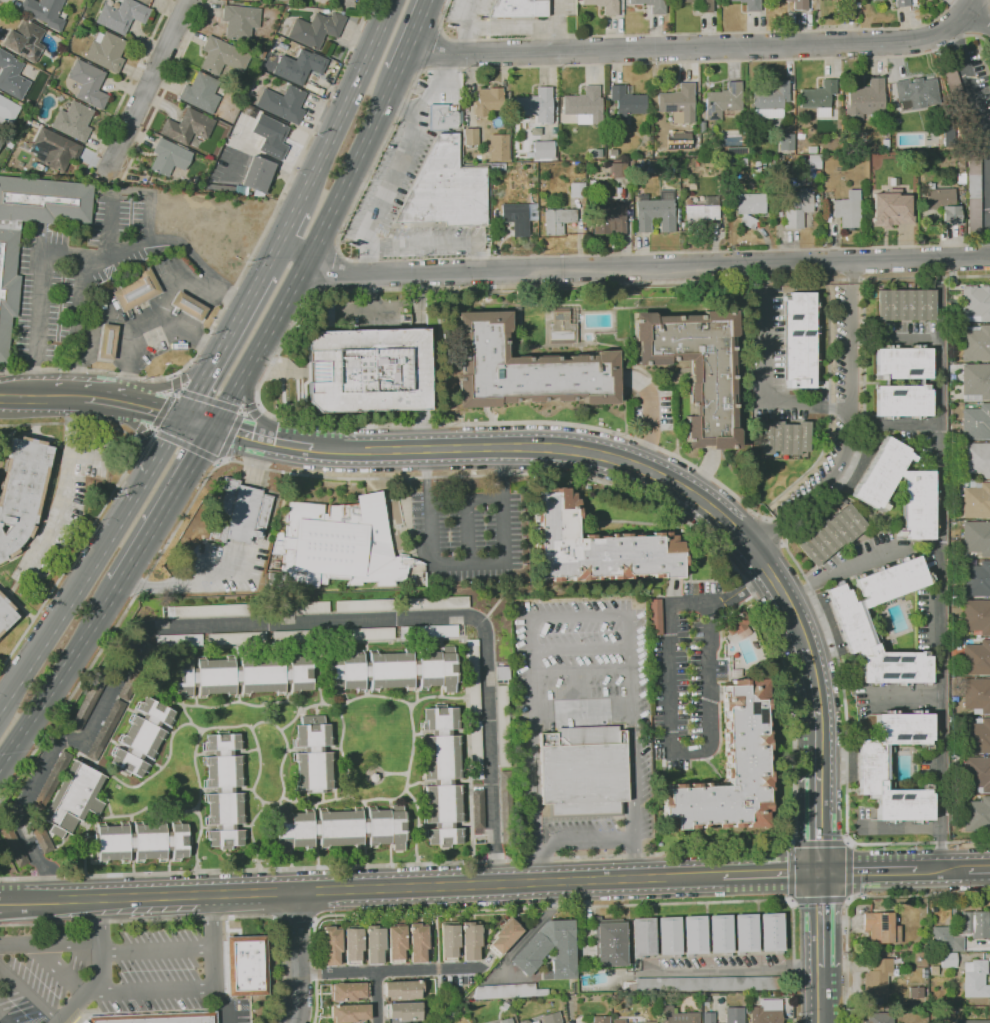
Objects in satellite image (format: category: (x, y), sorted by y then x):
building: (875, 0)
building: (901, 3)
building: (748, 4)
building: (799, 4)
building: (849, 4)
building: (603, 5)
building: (651, 5)
building: (701, 5)
road: (966, 5)
road: (4, 8)
building: (518, 8)
building: (45, 12)
building: (122, 15)
road: (977, 20)
building: (240, 21)
road: (555, 25)
road: (495, 28)
building: (316, 29)
road: (684, 32)
road: (413, 36)
building: (25, 40)
road: (468, 40)
road: (691, 48)
building: (106, 51)
building: (221, 56)
building: (300, 66)
building: (11, 76)
building: (88, 83)
road: (128, 86)
road: (168, 86)
road: (147, 88)
building: (201, 92)
building: (915, 93)
building: (61, 98)
building: (818, 98)
road: (348, 100)
building: (865, 100)
building: (487, 101)
building: (626, 101)
building: (722, 101)
building: (770, 101)
building: (958, 101)
building: (283, 103)
building: (678, 103)
road: (979, 104)
road: (397, 105)
building: (534, 105)
building: (584, 105)
building: (8, 109)
building: (444, 116)
building: (891, 116)
building: (73, 120)
building: (28, 123)
building: (34, 123)
building: (886, 124)
building: (188, 126)
building: (701, 126)
building: (892, 131)
building: (697, 134)
building: (271, 135)
building: (470, 136)
building: (800, 136)
building: (835, 136)
building: (1, 140)
building: (786, 142)
building: (685, 144)
building: (798, 144)
building: (497, 147)
building: (53, 149)
building: (543, 149)
building: (811, 149)
building: (736, 150)
building: (598, 152)
building: (169, 156)
building: (779, 157)
road: (400, 158)
building: (653, 162)
building: (770, 162)
building: (743, 163)
building: (813, 165)
building: (785, 168)
building: (618, 169)
building: (638, 170)
building: (259, 175)
building: (960, 177)
building: (742, 181)
building: (228, 188)
building: (445, 189)
building: (577, 190)
building: (973, 195)
road: (361, 197)
building: (943, 205)
building: (753, 207)
building: (796, 208)
building: (891, 208)
building: (848, 210)
building: (656, 211)
building: (701, 213)
building: (519, 216)
building: (609, 219)
road: (291, 220)
building: (557, 220)
road: (435, 243)
building: (8, 249)
road: (310, 252)
road: (84, 255)
road: (272, 256)
road: (632, 265)
road: (243, 271)
road: (867, 277)
road: (931, 277)
road: (853, 278)
building: (136, 290)
road: (939, 300)
building: (975, 303)
building: (905, 304)
building: (188, 306)
road: (108, 316)
road: (147, 319)
gas station: (153, 321)
building: (562, 326)
road: (81, 327)
road: (187, 334)
building: (799, 340)
building: (107, 341)
road: (895, 341)
building: (976, 344)
road: (222, 345)
road: (280, 353)
building: (696, 368)
building: (525, 369)
building: (368, 370)
road: (174, 375)
building: (922, 381)
building: (975, 382)
road: (174, 383)
road: (171, 384)
road: (174, 390)
road: (763, 392)
road: (40, 399)
road: (101, 400)
road: (257, 402)
road: (218, 403)
road: (828, 406)
road: (251, 410)
road: (152, 411)
road: (163, 411)
traffic signals: (182, 419)
road: (198, 423)
building: (976, 423)
road: (850, 424)
road: (895, 424)
traffic signals: (214, 427)
road: (153, 430)
road: (155, 432)
road: (144, 434)
road: (229, 435)
road: (264, 438)
building: (784, 438)
road: (135, 439)
road: (146, 440)
road: (187, 446)
building: (976, 460)
road: (155, 461)
road: (636, 461)
road: (221, 462)
road: (255, 463)
road: (62, 487)
building: (872, 488)
flagpole: (259, 489)
building: (22, 490)
road: (109, 498)
building: (976, 501)
road: (166, 506)
road: (466, 512)
building: (239, 513)
road: (765, 518)
road: (771, 530)
building: (831, 534)
building: (977, 538)
road: (782, 542)
building: (339, 544)
building: (596, 545)
road: (720, 550)
road: (468, 562)
road: (840, 569)
road: (738, 573)
road: (192, 577)
building: (976, 579)
building: (413, 582)
road: (746, 587)
building: (653, 592)
building: (433, 603)
building: (364, 605)
road: (940, 605)
road: (66, 607)
building: (298, 610)
building: (209, 611)
building: (5, 614)
road: (824, 614)
road: (577, 615)
building: (655, 616)
building: (976, 616)
road: (279, 622)
building: (737, 624)
road: (769, 624)
building: (855, 629)
building: (429, 631)
building: (365, 634)
building: (301, 636)
building: (236, 638)
building: (178, 640)
road: (581, 648)
building: (976, 658)
building: (392, 670)
road: (581, 670)
building: (136, 671)
building: (502, 673)
road: (59, 674)
building: (243, 675)
building: (473, 677)
building: (977, 694)
road: (582, 707)
building: (502, 726)
building: (106, 728)
building: (976, 735)
building: (141, 736)
road: (671, 745)
building: (476, 749)
building: (313, 755)
building: (873, 768)
building: (730, 769)
building: (583, 772)
building: (977, 772)
building: (442, 776)
building: (52, 779)
building: (224, 790)
road: (818, 790)
building: (73, 798)
building: (506, 805)
building: (478, 809)
building: (977, 813)
building: (340, 828)
flagpole: (548, 833)
building: (40, 837)
road: (582, 840)
building: (141, 841)
building: (13, 846)
road: (979, 869)
road: (942, 870)
road: (868, 871)
traffic signals: (820, 872)
road: (771, 874)
road: (360, 888)
road: (858, 897)
road: (561, 907)
road: (191, 918)
road: (297, 920)
building: (975, 924)
road: (820, 927)
building: (881, 927)
building: (772, 932)
building: (746, 933)
building: (720, 934)
building: (694, 935)
building: (505, 936)
building: (669, 936)
road: (435, 937)
building: (643, 937)
building: (470, 940)
building: (449, 941)
road: (49, 942)
building: (418, 942)
building: (609, 942)
building: (396, 943)
building: (374, 944)
building: (955, 944)
building: (331, 945)
building: (353, 945)
road: (156, 950)
building: (531, 952)
road: (298, 957)
road: (213, 959)
building: (948, 960)
building: (246, 965)
road: (56, 967)
road: (437, 968)
road: (99, 969)
road: (387, 970)
building: (934, 970)
road: (739, 971)
parking lot: (108, 972)
building: (877, 976)
building: (975, 979)
building: (702, 984)
road: (437, 985)
road: (149, 989)
building: (403, 989)
building: (348, 991)
building: (509, 991)
road: (28, 992)
building: (916, 992)
road: (377, 997)
road: (821, 1003)
building: (504, 1005)
building: (404, 1011)
building: (766, 1011)
building: (349, 1013)
building: (734, 1015)
building: (679, 1017)
building: (708, 1017)
building: (878, 1017)
building: (159, 1018)
building: (552, 1018)
road: (4, 1019)
building: (594, 1019)
building: (618, 1020)
building: (506, 1021)
building: (524, 1021)
building: (972, 1021)
building: (83, 1022)
building: (649, 1022)

